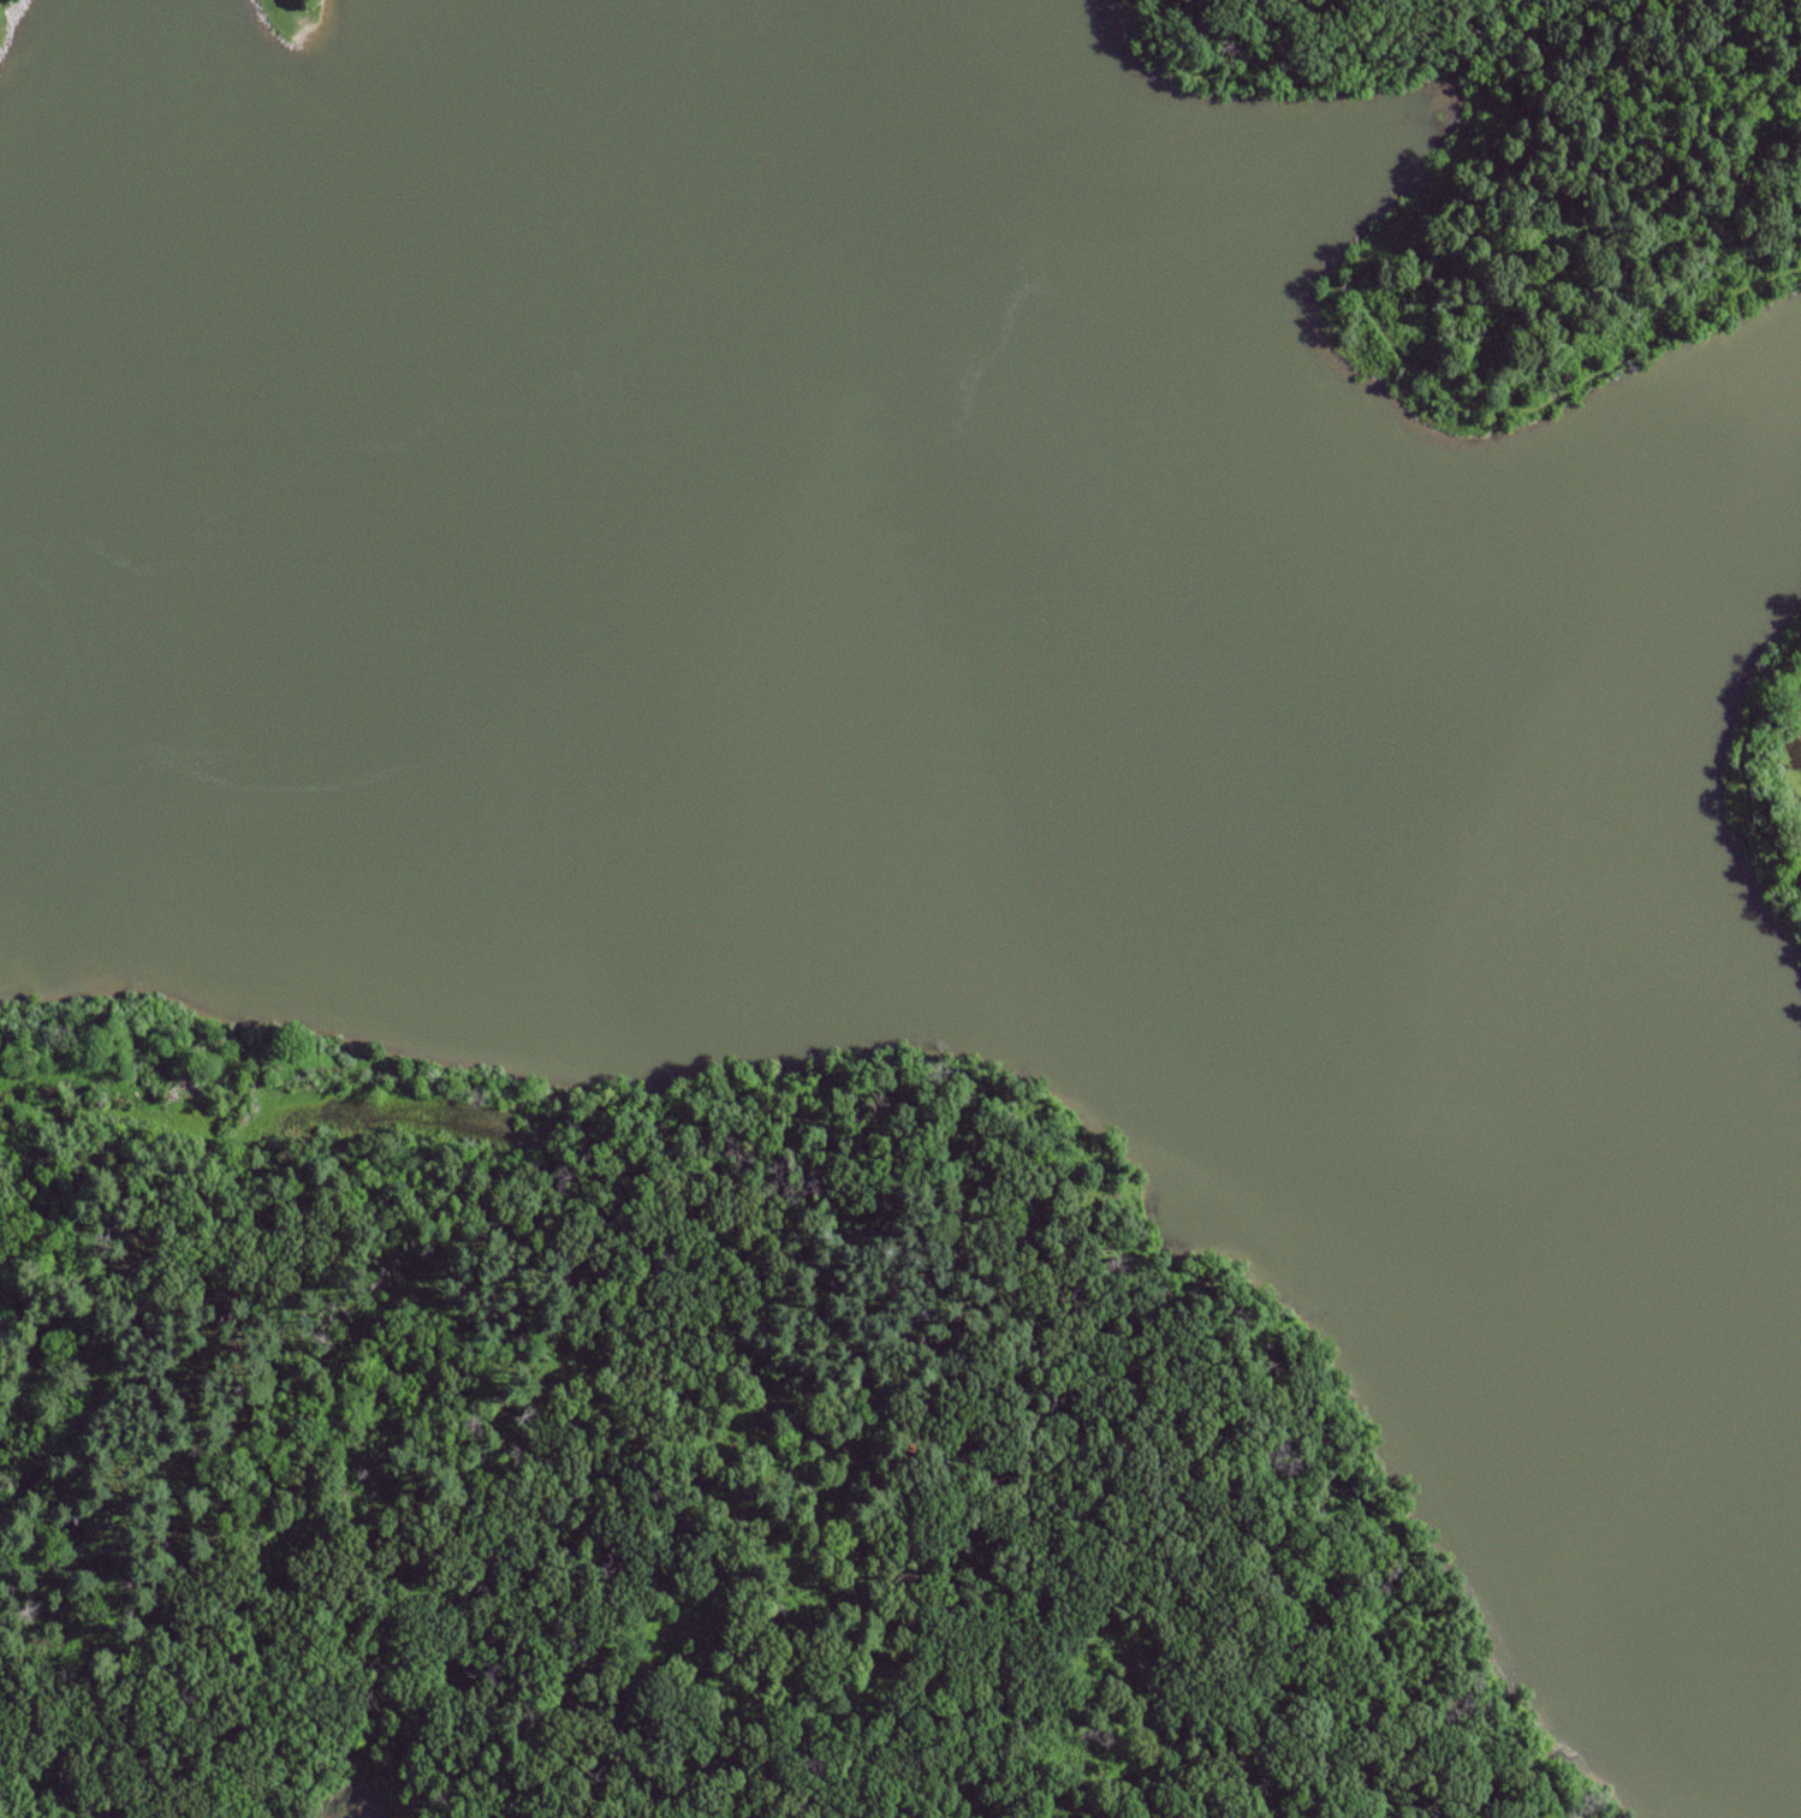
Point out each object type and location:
road: (1389, 232)
road: (1747, 764)

